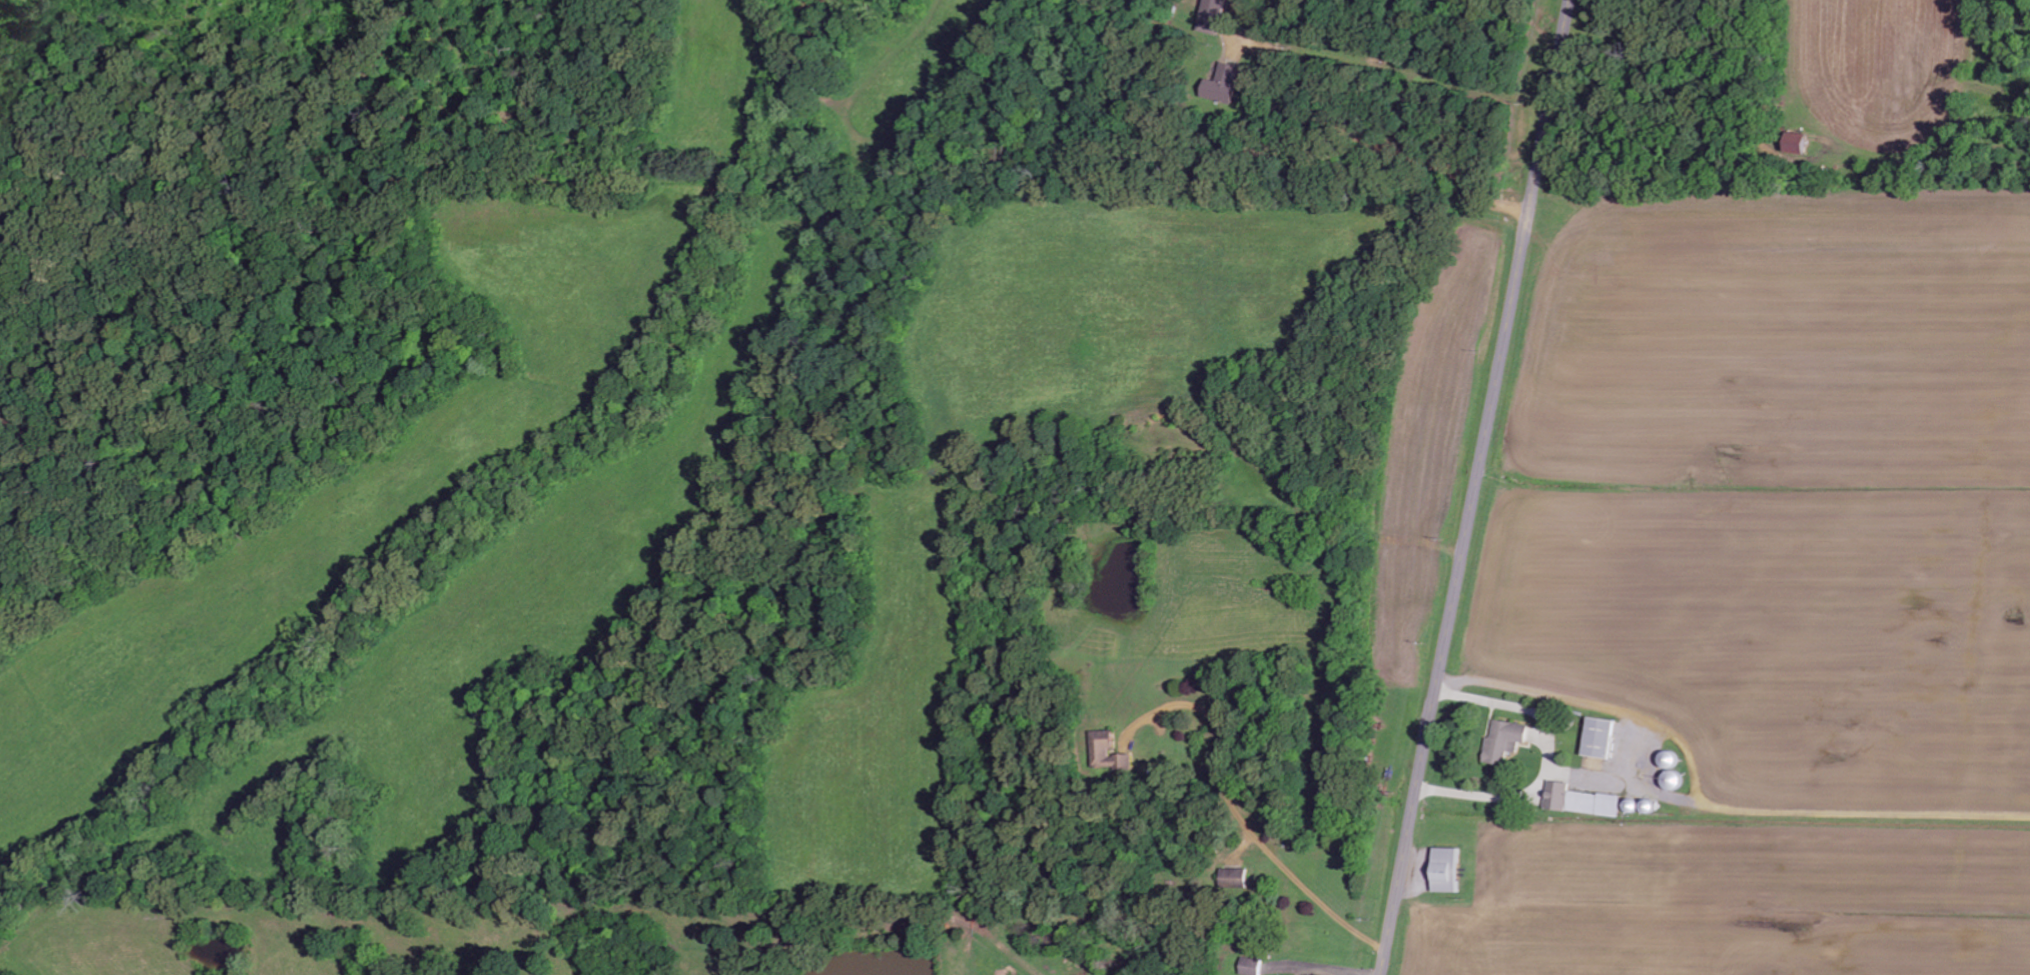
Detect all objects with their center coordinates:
building: (1214, 16)
building: (1227, 83)
building: (1805, 143)
road: (1476, 487)
building: (1110, 734)
building: (1604, 736)
building: (1507, 739)
building: (1121, 762)
building: (1584, 799)
building: (1451, 869)
building: (1237, 877)
building: (1252, 966)

